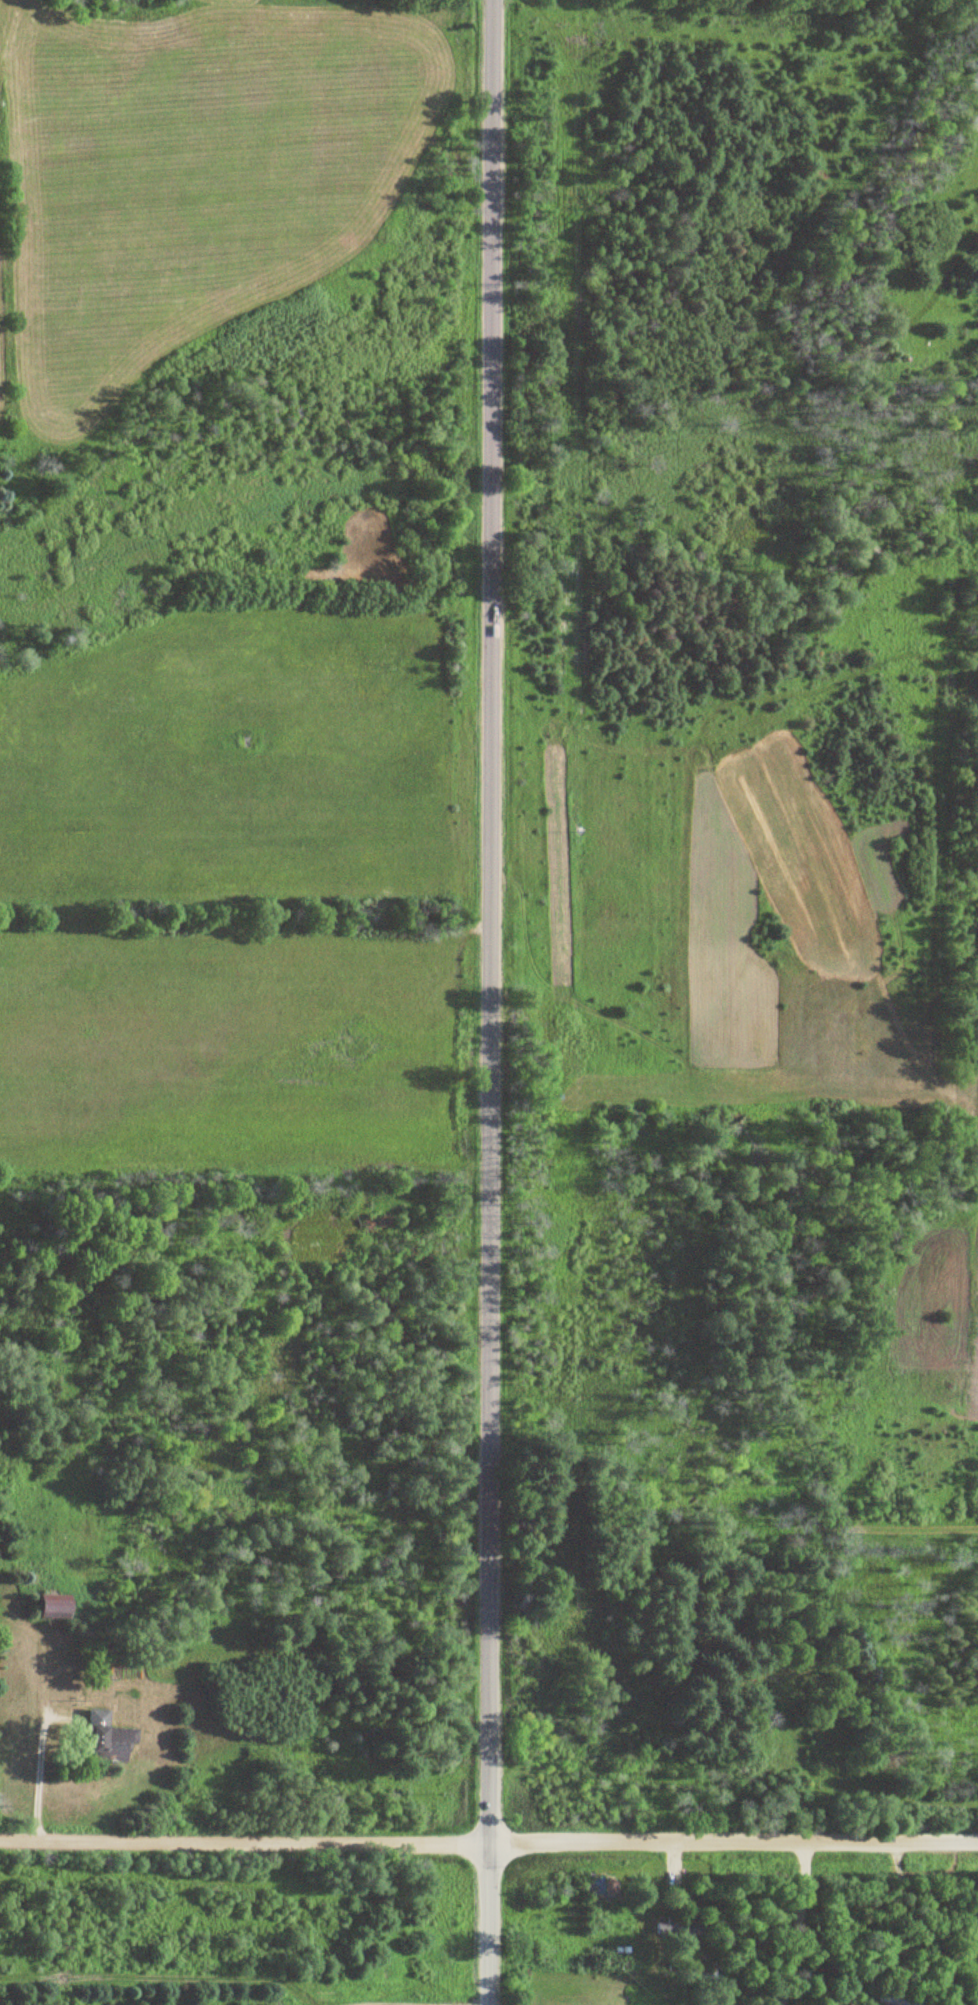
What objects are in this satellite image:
road: (482, 1002)
building: (41, 1608)
building: (101, 1738)
road: (32, 1776)
road: (488, 1846)
road: (788, 1924)

